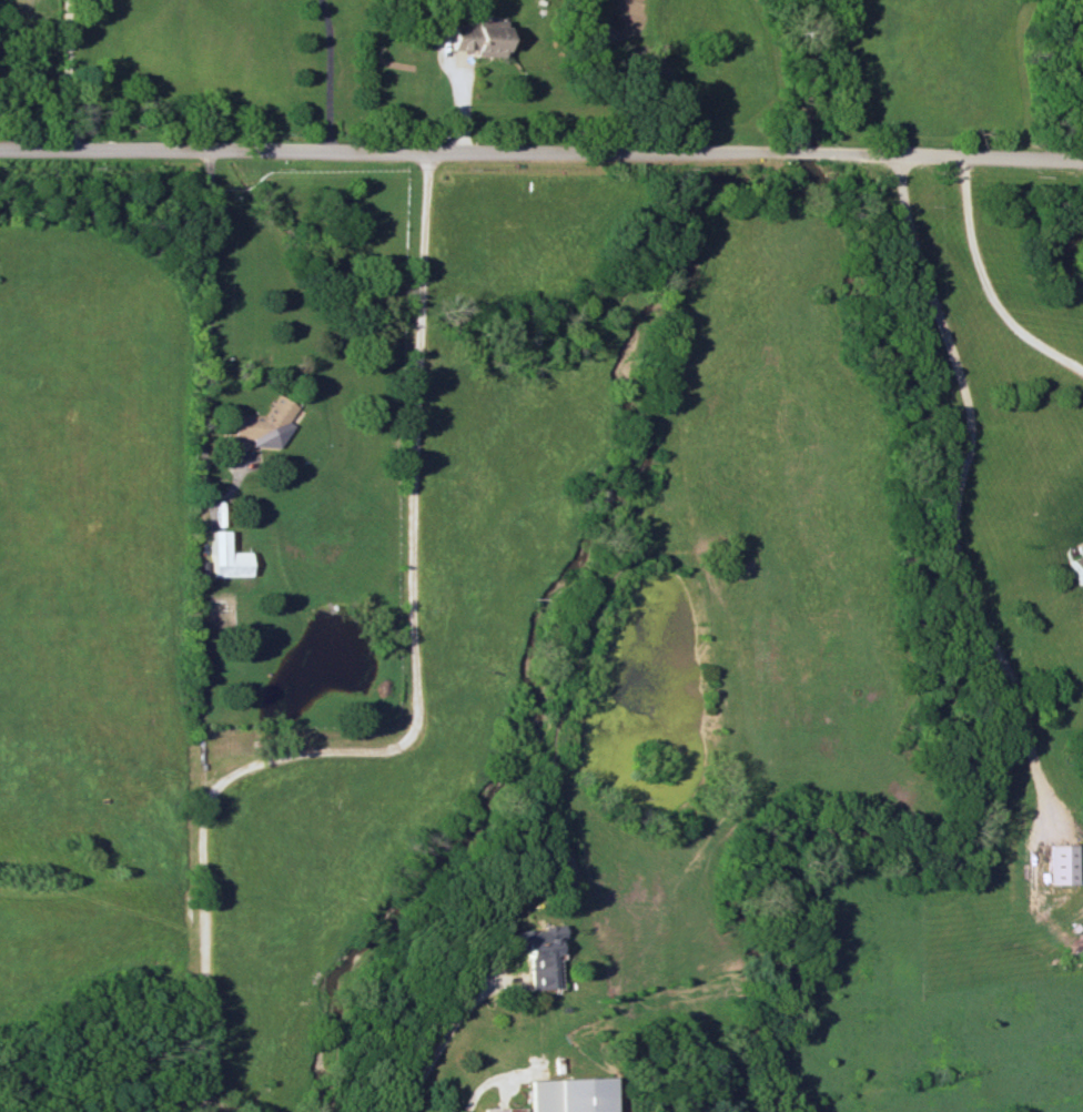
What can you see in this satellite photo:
building: (478, 38)
road: (68, 73)
road: (330, 73)
road: (396, 151)
road: (810, 155)
road: (954, 161)
road: (985, 289)
road: (205, 357)
building: (266, 424)
road: (954, 494)
building: (1074, 563)
building: (231, 564)
road: (413, 708)
building: (1062, 863)
building: (540, 952)
road: (443, 1045)
road: (479, 1085)
building: (570, 1094)
road: (201, 1101)
building: (503, 1109)
road: (201, 1111)

